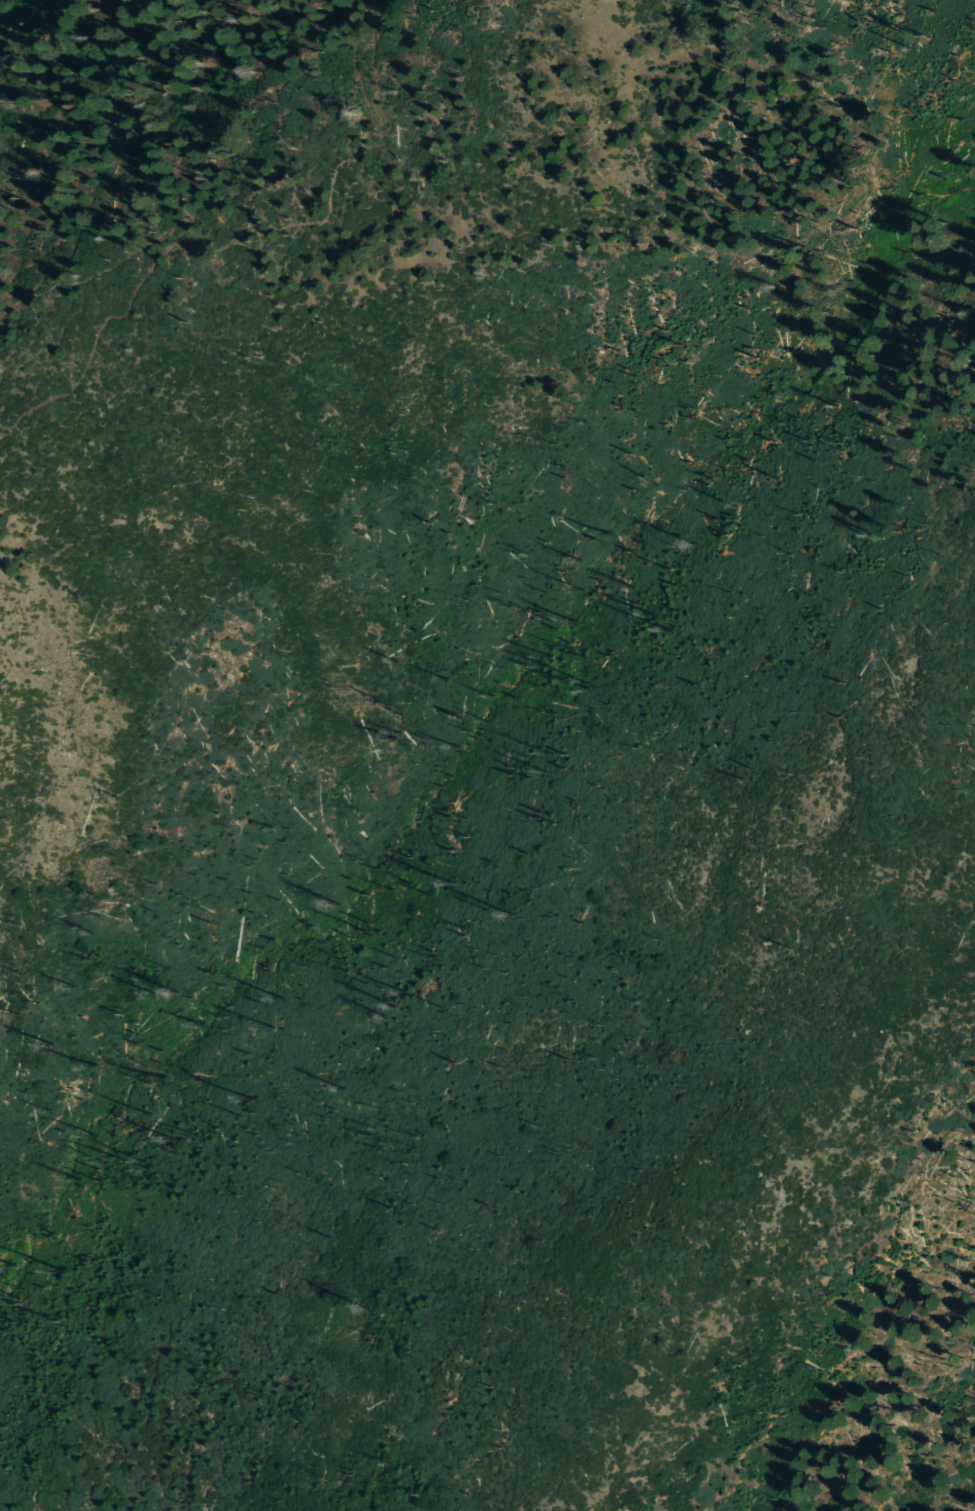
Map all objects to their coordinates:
road: (381, 113)
road: (172, 237)
road: (67, 256)

